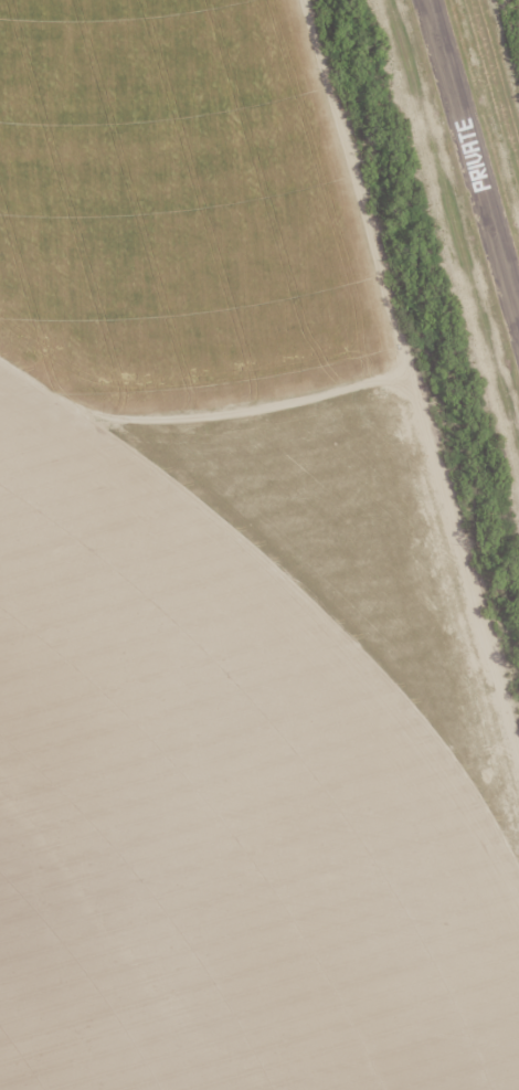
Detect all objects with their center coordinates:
airport runway: (474, 157)

